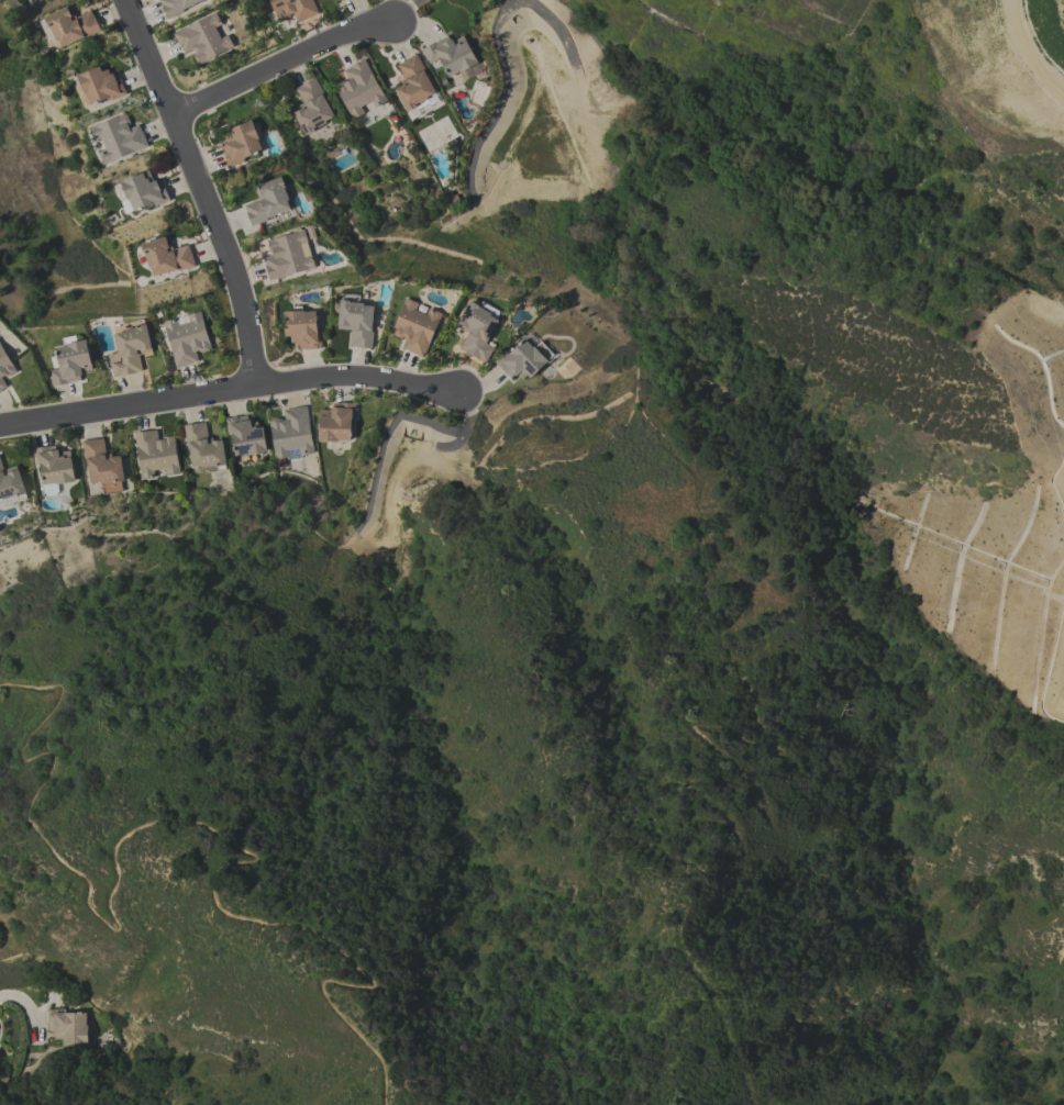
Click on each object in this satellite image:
building: (339, 0)
building: (175, 5)
building: (292, 9)
building: (68, 25)
building: (201, 38)
building: (450, 54)
road: (280, 64)
park: (861, 69)
building: (98, 86)
building: (414, 87)
building: (358, 88)
building: (311, 107)
building: (118, 137)
building: (240, 143)
road: (203, 189)
building: (143, 190)
building: (267, 201)
building: (288, 254)
building: (166, 256)
building: (355, 322)
building: (414, 326)
building: (301, 327)
building: (476, 330)
building: (186, 338)
building: (130, 349)
building: (523, 359)
building: (70, 361)
building: (4, 367)
road: (229, 390)
building: (335, 422)
building: (290, 432)
building: (245, 435)
building: (202, 446)
building: (155, 453)
building: (101, 465)
building: (53, 468)
building: (11, 483)
road: (195, 823)
road: (27, 1003)
building: (68, 1026)

